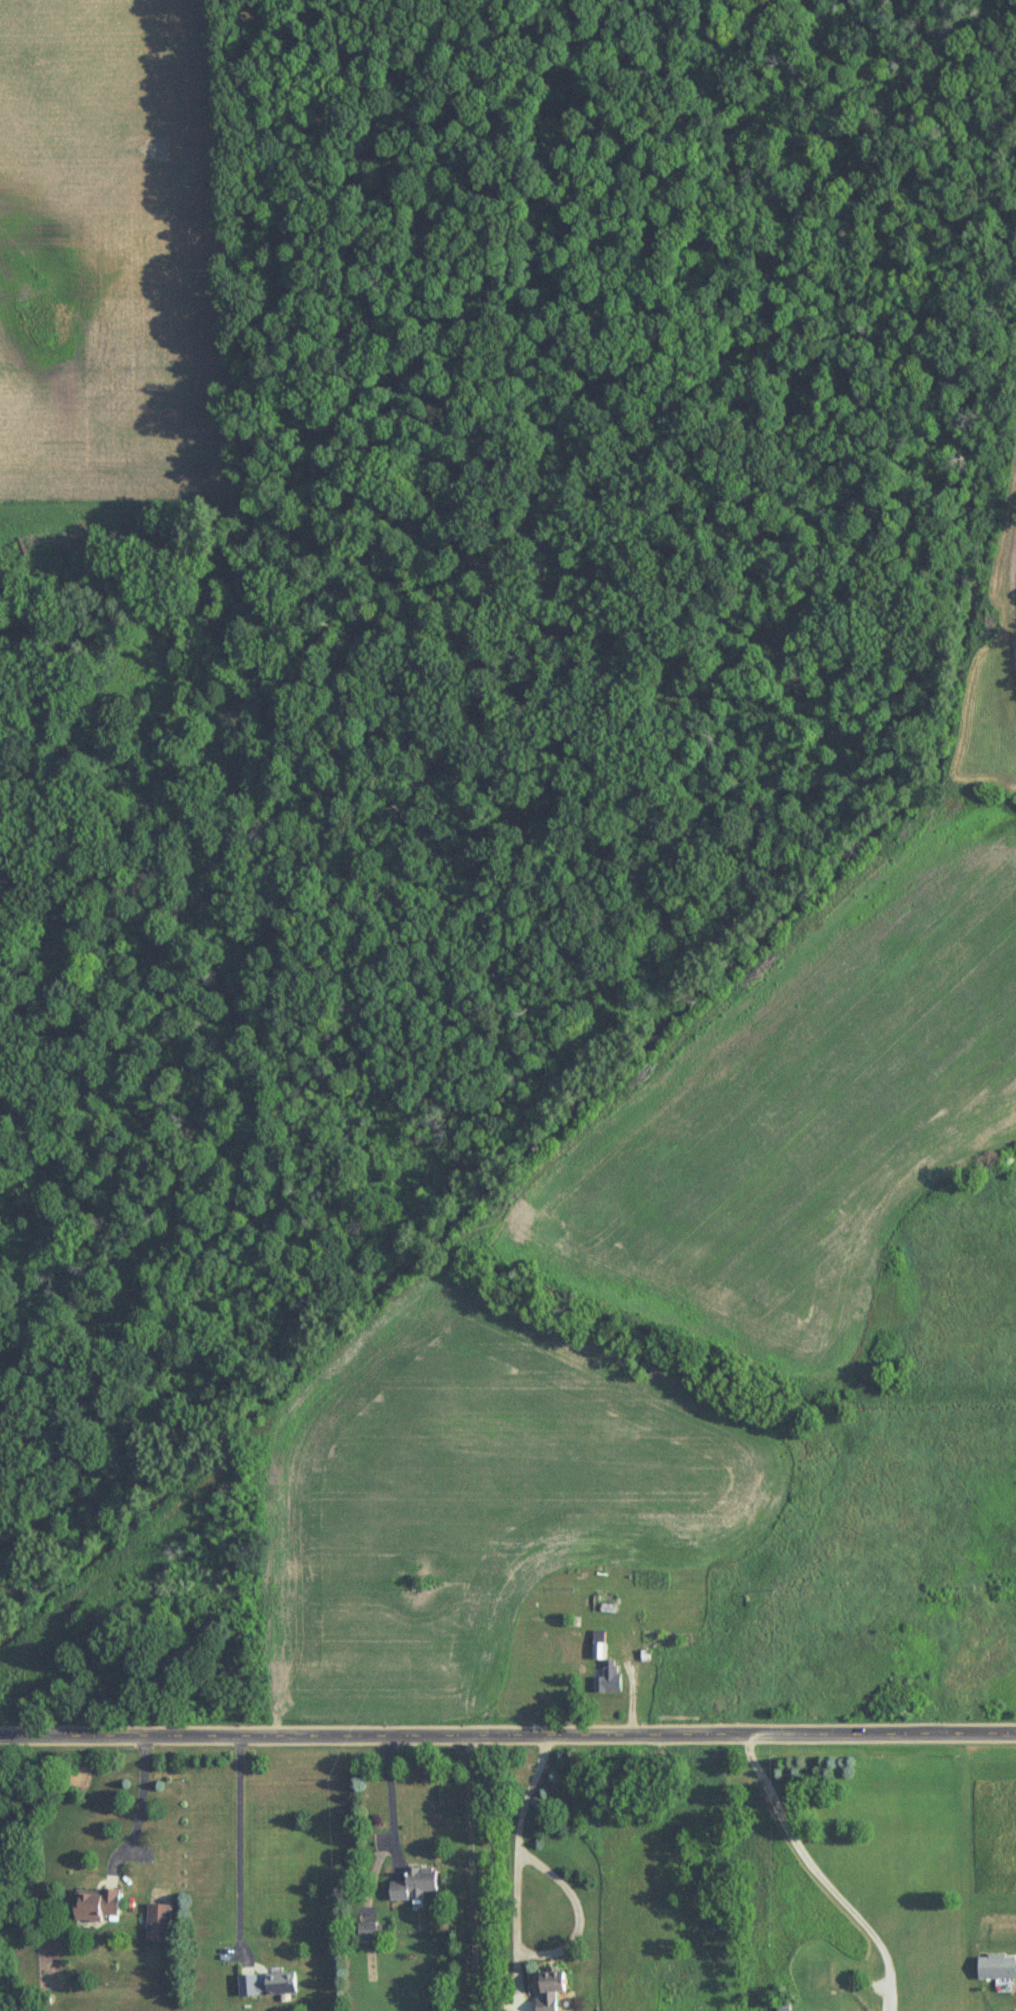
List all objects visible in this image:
building: (597, 1646)
building: (606, 1680)
road: (508, 1735)
road: (390, 1790)
road: (140, 1800)
road: (239, 1832)
road: (823, 1865)
road: (472, 1873)
building: (411, 1885)
building: (93, 1904)
building: (156, 1923)
road: (517, 1926)
building: (366, 1935)
building: (995, 1967)
building: (266, 1985)
building: (545, 1990)
building: (782, 2007)

